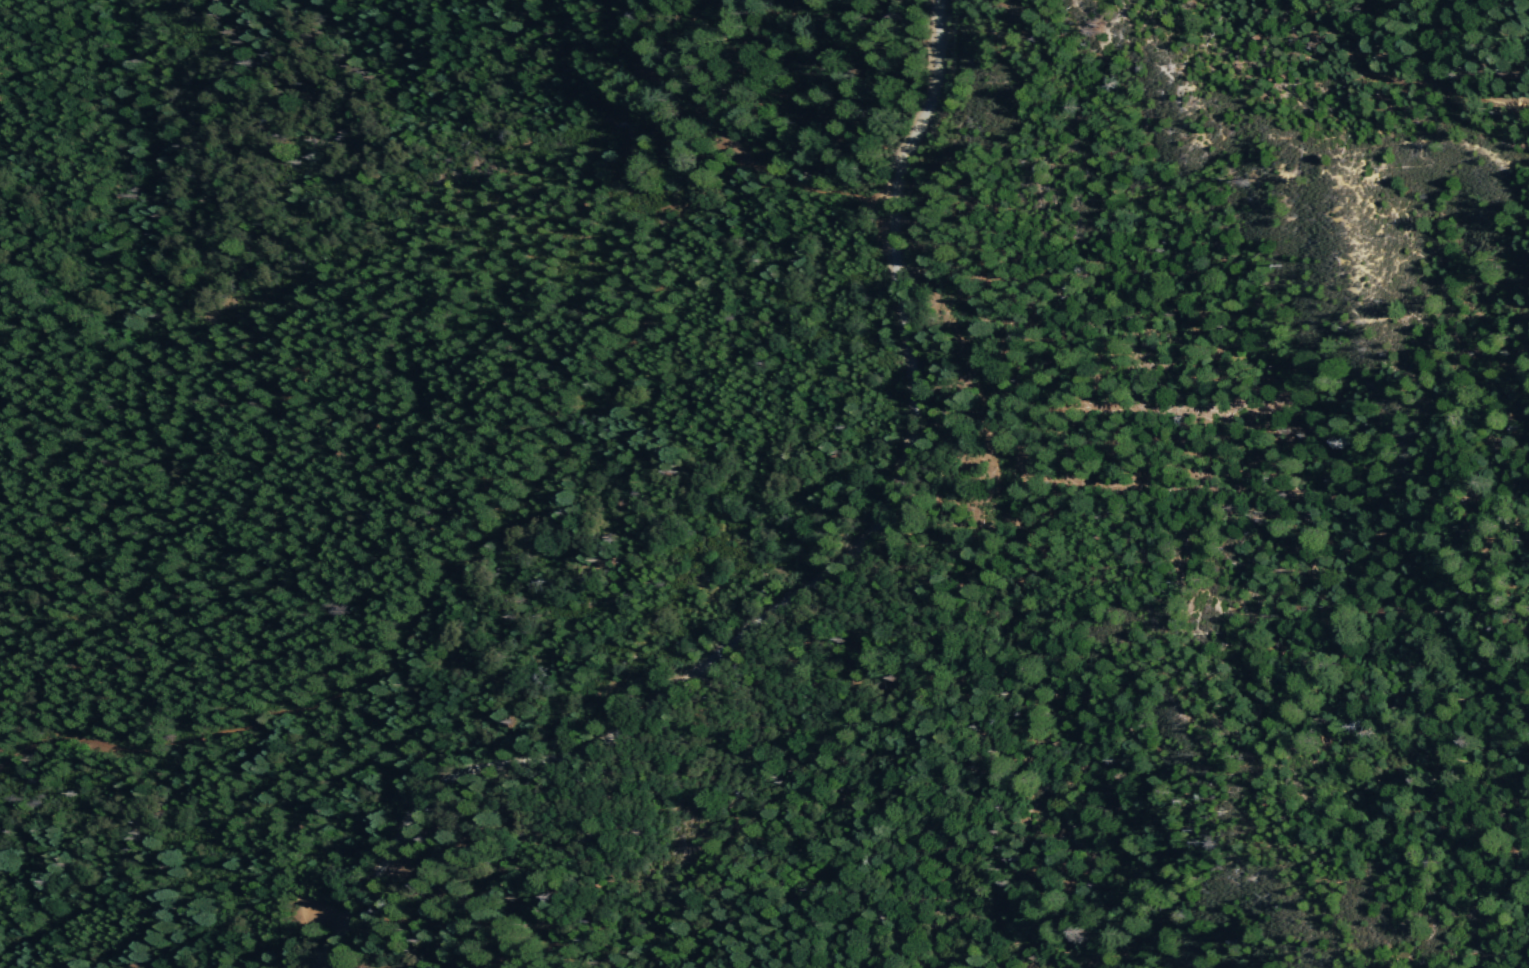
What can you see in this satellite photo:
road: (1422, 66)
road: (944, 107)
road: (497, 520)
road: (802, 593)

